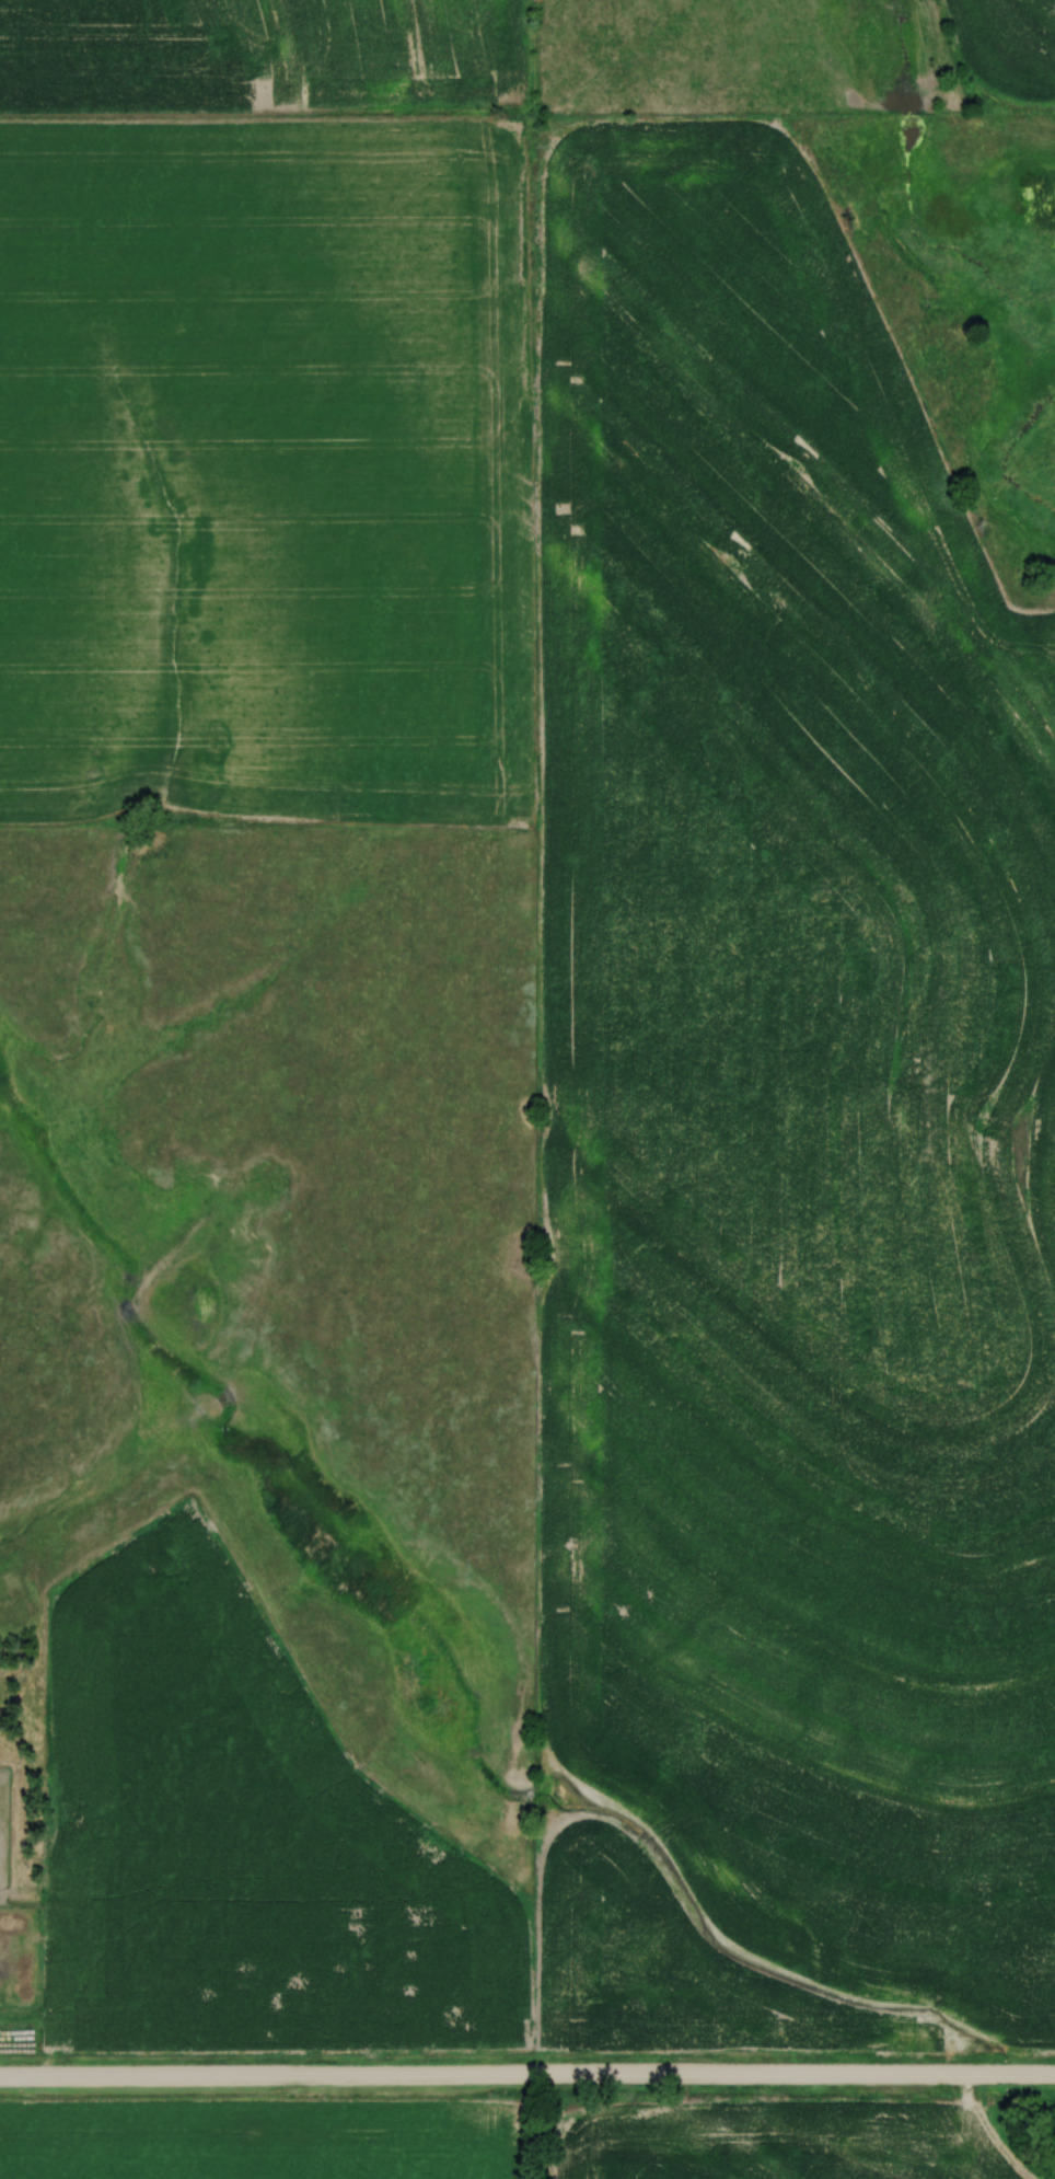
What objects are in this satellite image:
road: (527, 2073)

